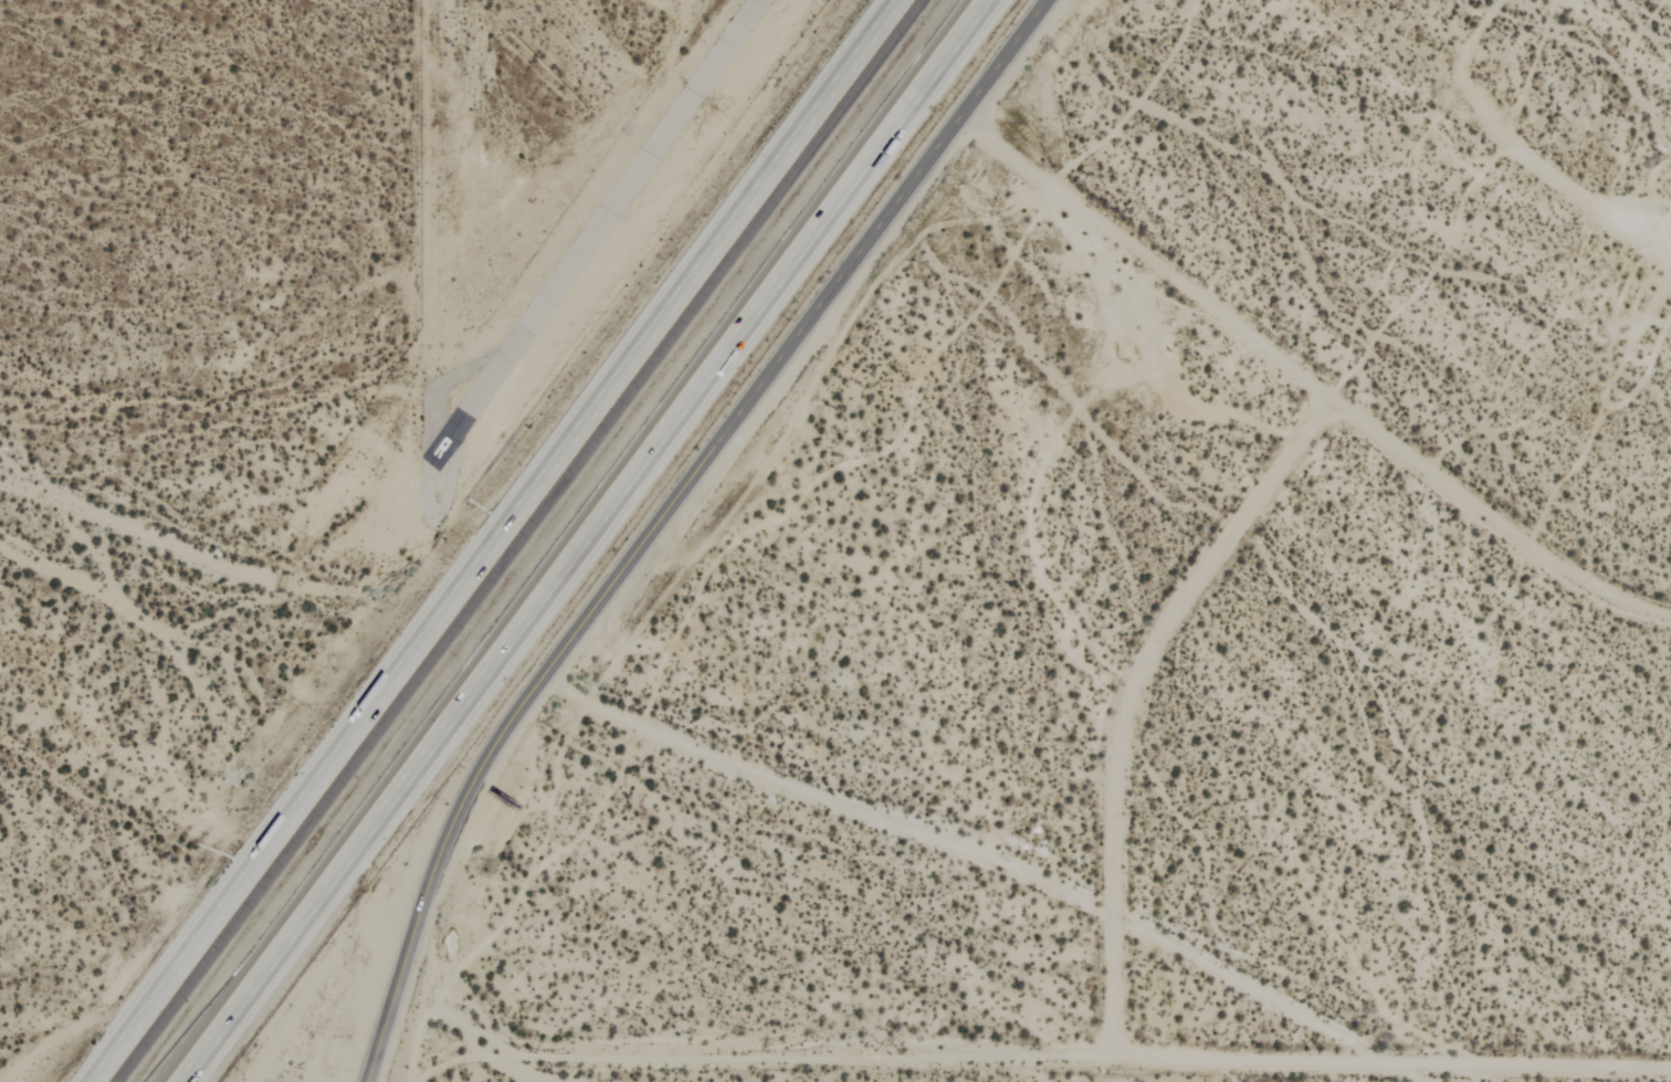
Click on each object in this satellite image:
airport: (519, 225)
airport runway: (588, 228)
road: (1142, 256)
airport taxiway: (425, 460)
road: (672, 503)
road: (1493, 518)
road: (495, 540)
railway: (544, 540)
road: (586, 540)
road: (1132, 695)
road: (985, 857)
road: (1026, 1052)
road: (376, 1065)

